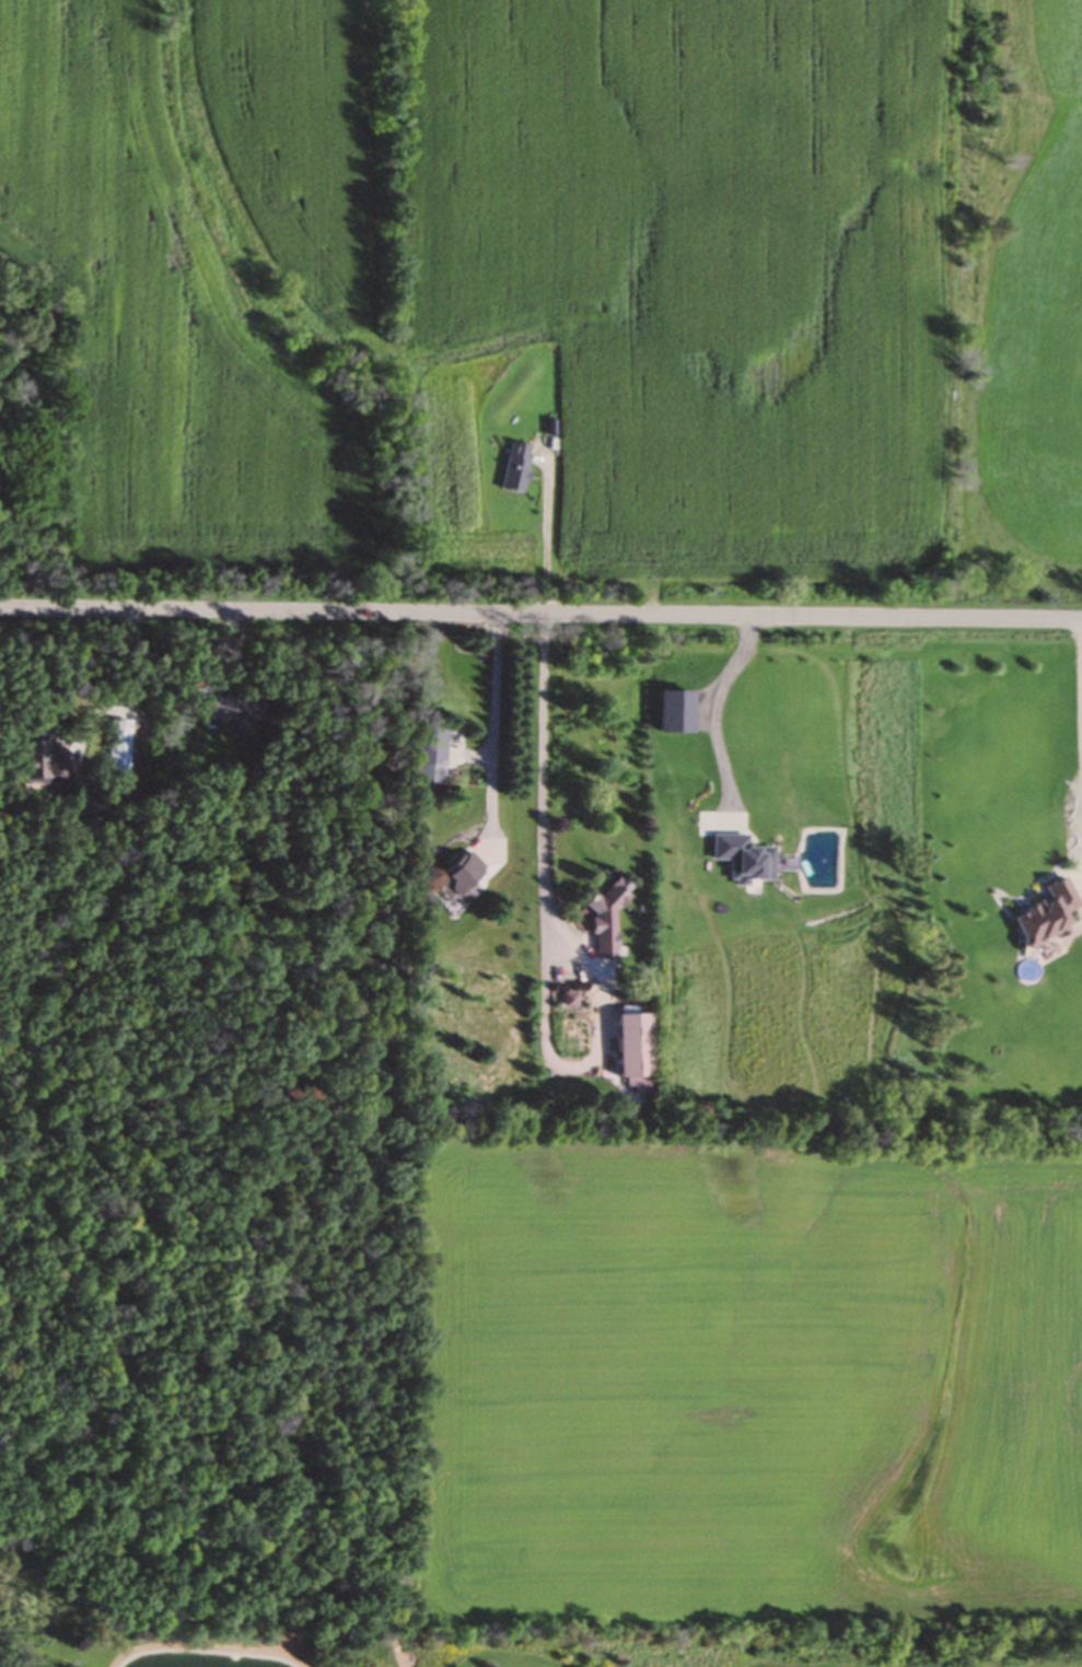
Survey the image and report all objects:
road: (544, 535)
road: (540, 614)
road: (132, 683)
road: (712, 704)
road: (495, 731)
building: (116, 747)
building: (426, 757)
building: (38, 765)
building: (457, 875)
building: (1046, 916)
building: (605, 919)
road: (544, 937)
building: (630, 1050)

